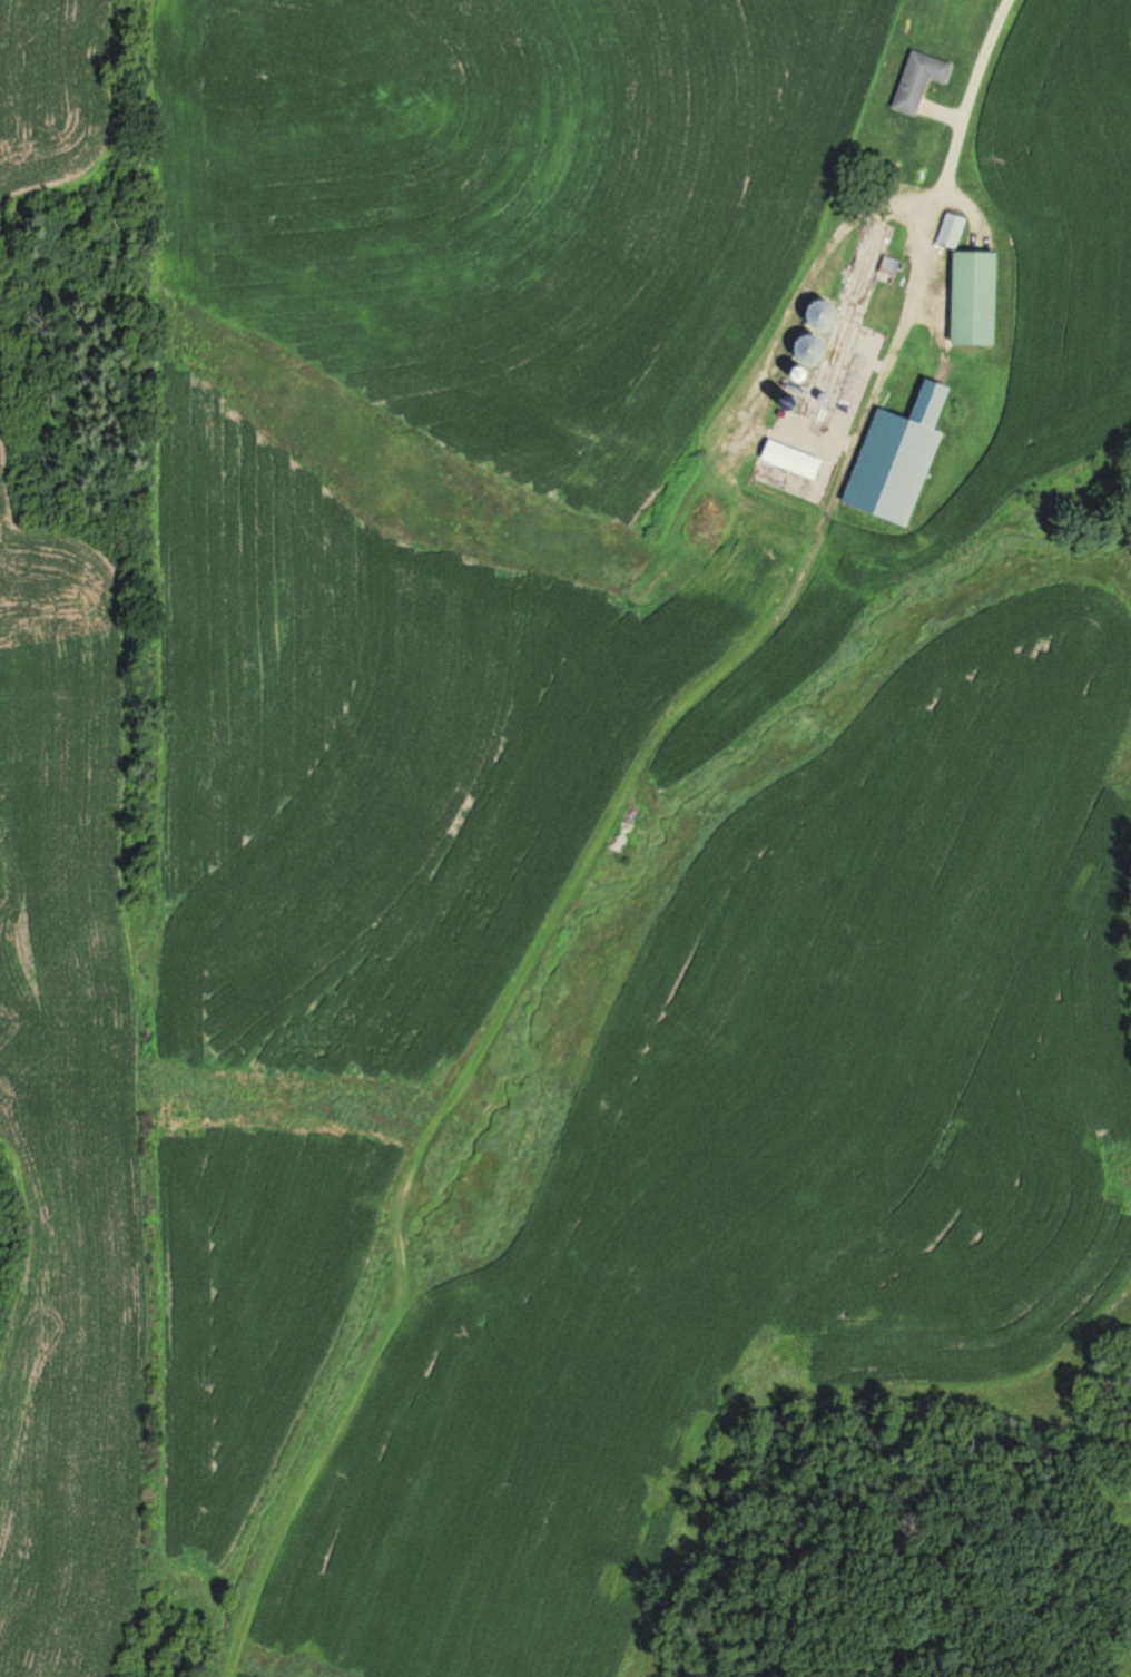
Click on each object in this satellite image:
building: (919, 80)
building: (948, 229)
building: (975, 297)
building: (845, 322)
building: (899, 455)
building: (795, 459)
building: (715, 513)
road: (602, 830)

